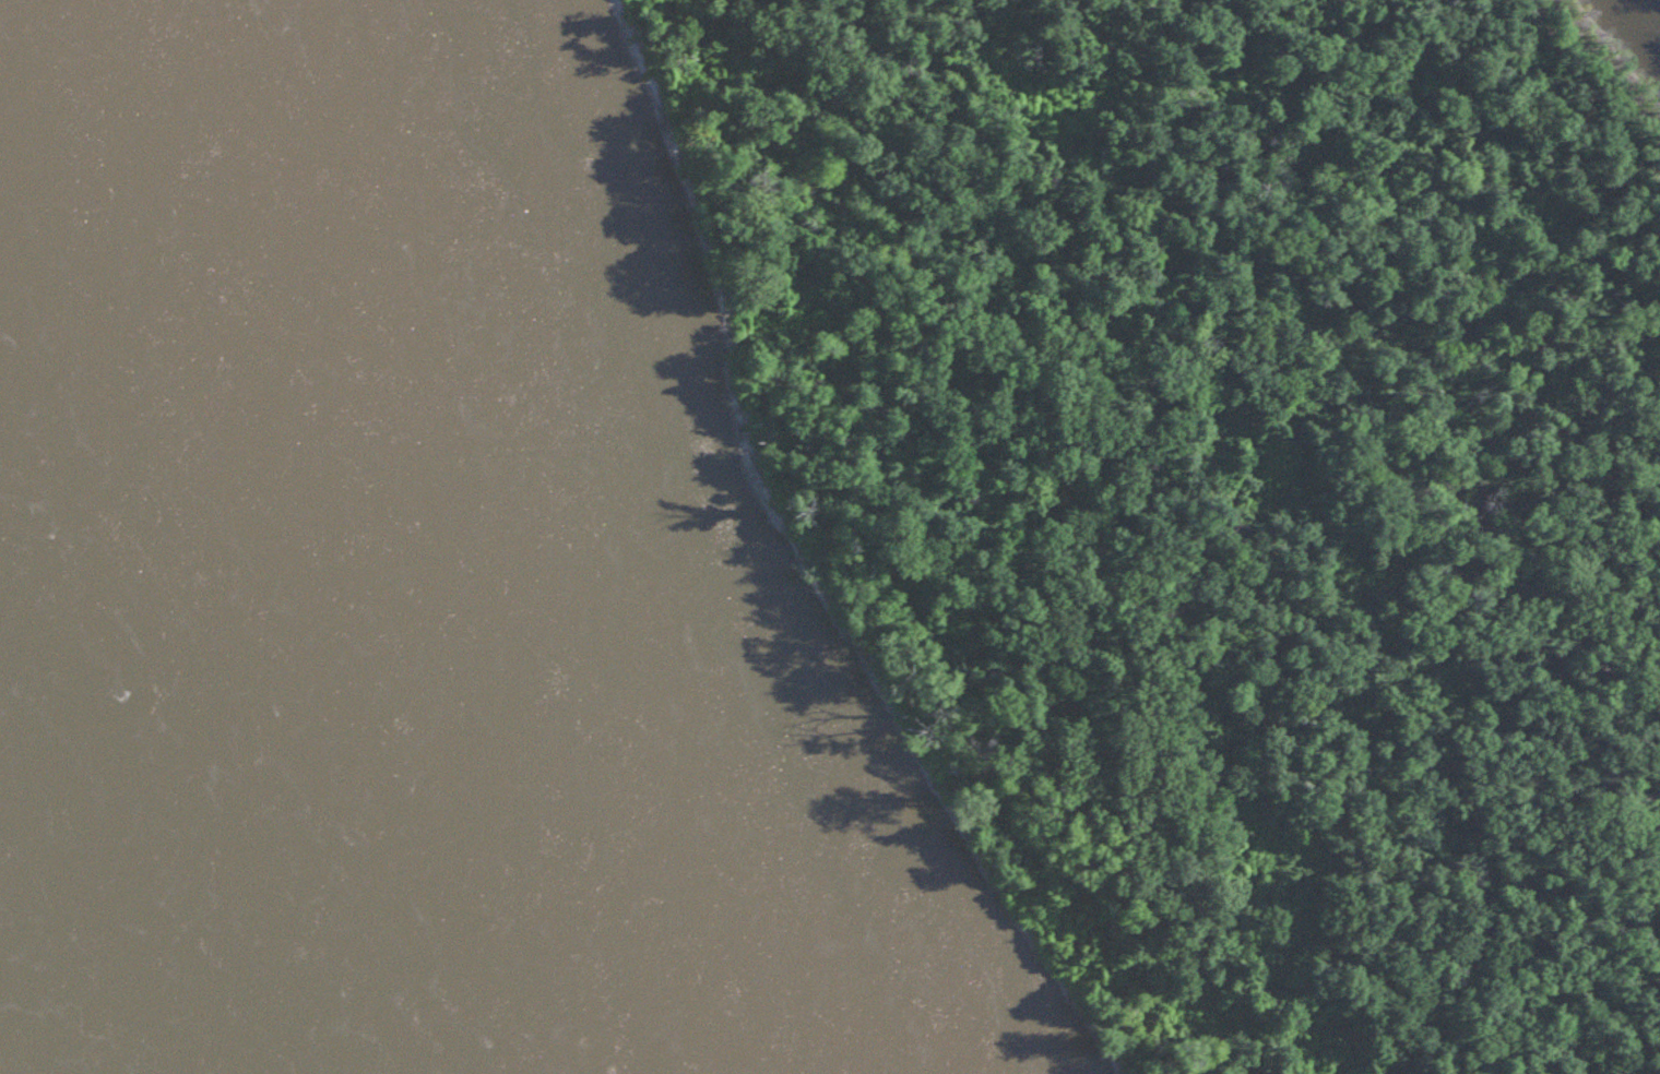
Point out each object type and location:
river: (81, 916)

